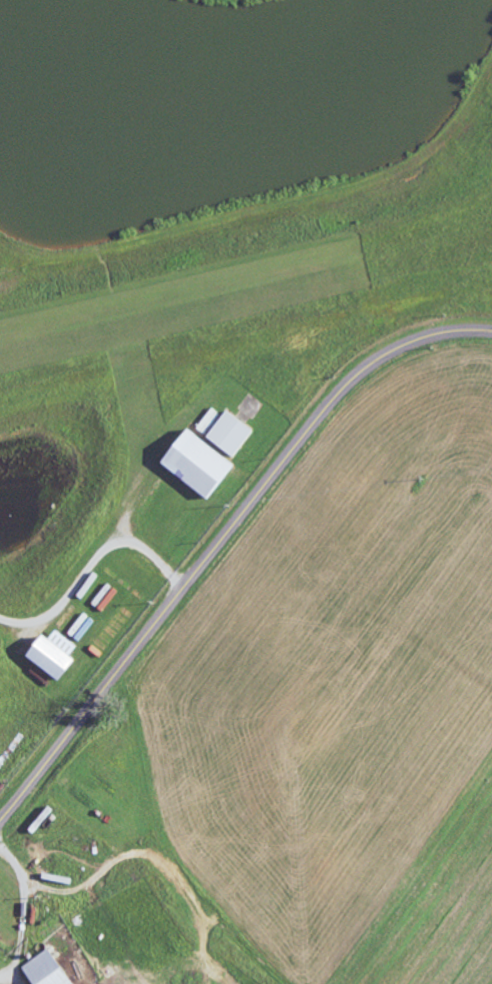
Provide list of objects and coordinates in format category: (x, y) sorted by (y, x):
building: (234, 434)
building: (202, 464)
road: (222, 539)
building: (58, 655)
building: (50, 970)

